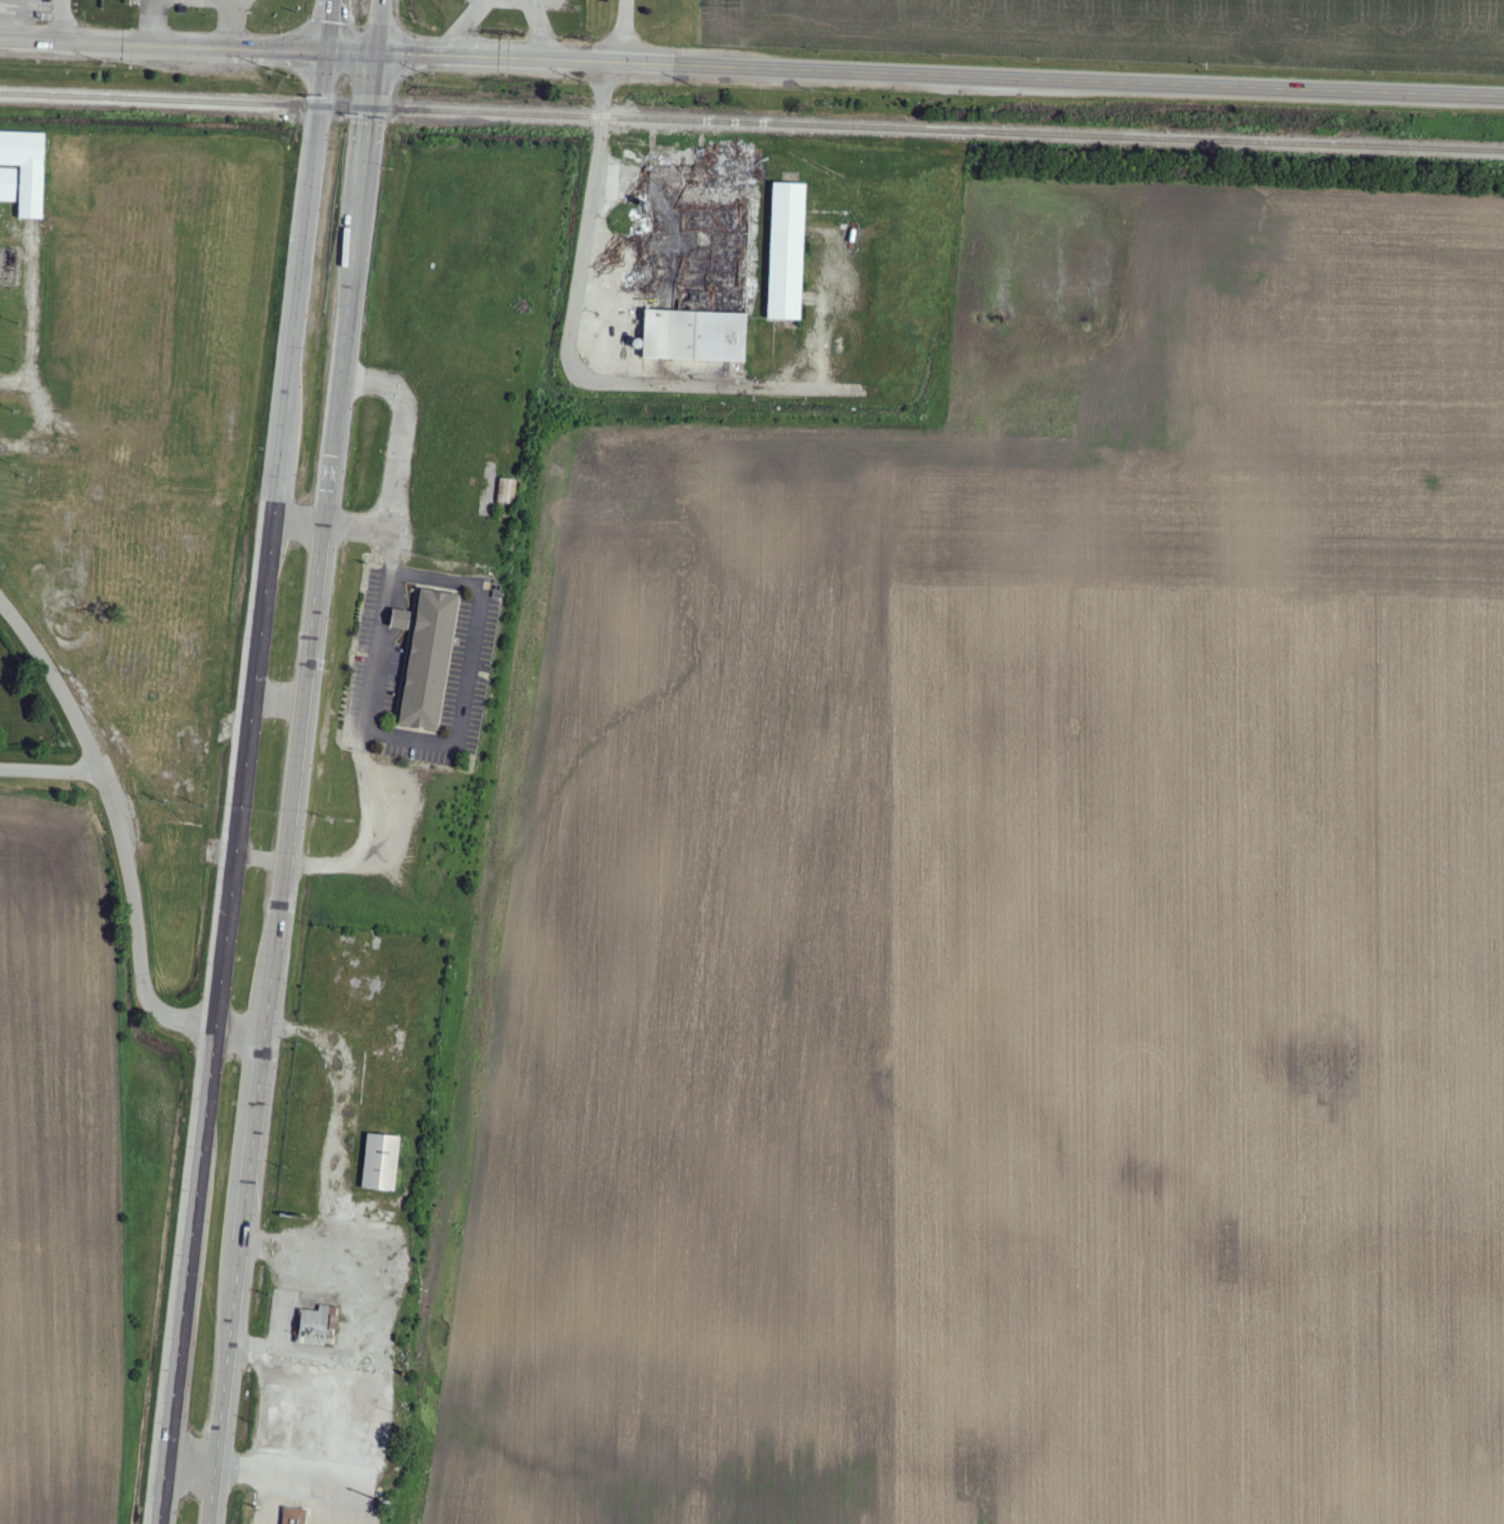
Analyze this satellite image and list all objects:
road: (229, 0)
building: (182, 7)
parking lot: (26, 9)
road: (56, 20)
road: (152, 22)
road: (230, 24)
road: (328, 25)
road: (381, 25)
road: (624, 28)
crop: (1134, 31)
road: (163, 45)
traffic signals: (327, 50)
road: (353, 50)
traffic signals: (380, 51)
road: (942, 69)
railway: (160, 102)
railway: (346, 109)
railway: (937, 129)
building: (26, 168)
building: (8, 184)
road: (582, 207)
building: (787, 250)
building: (695, 336)
road: (624, 359)
road: (394, 448)
building: (506, 491)
road: (331, 525)
building: (495, 595)
building: (398, 620)
road: (376, 656)
building: (429, 660)
parking lot: (421, 663)
road: (468, 667)
road: (51, 772)
road: (239, 786)
road: (298, 787)
road: (125, 847)
road: (348, 860)
building: (379, 1162)
crop: (58, 1174)
building: (317, 1325)
road: (317, 1475)
building: (294, 1515)

